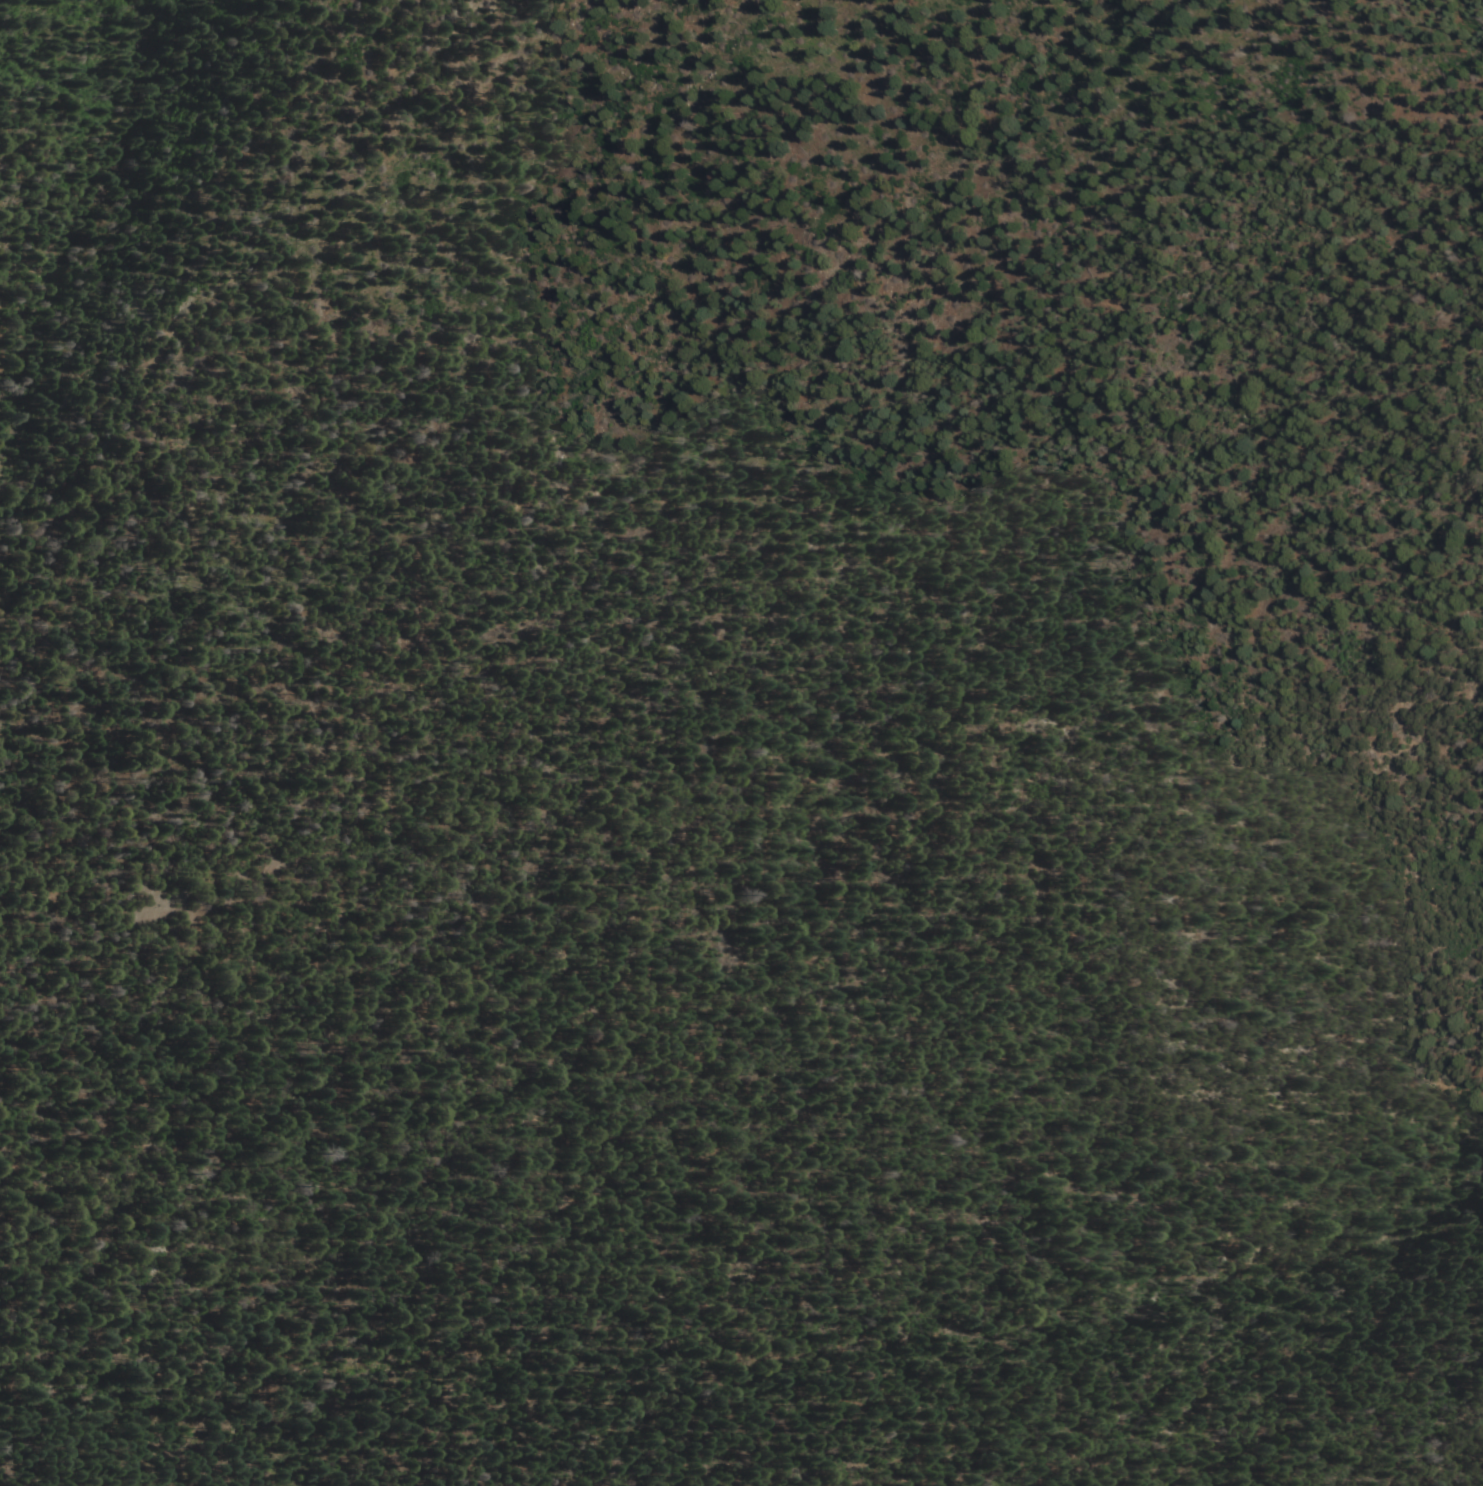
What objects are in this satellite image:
road: (1006, 774)

